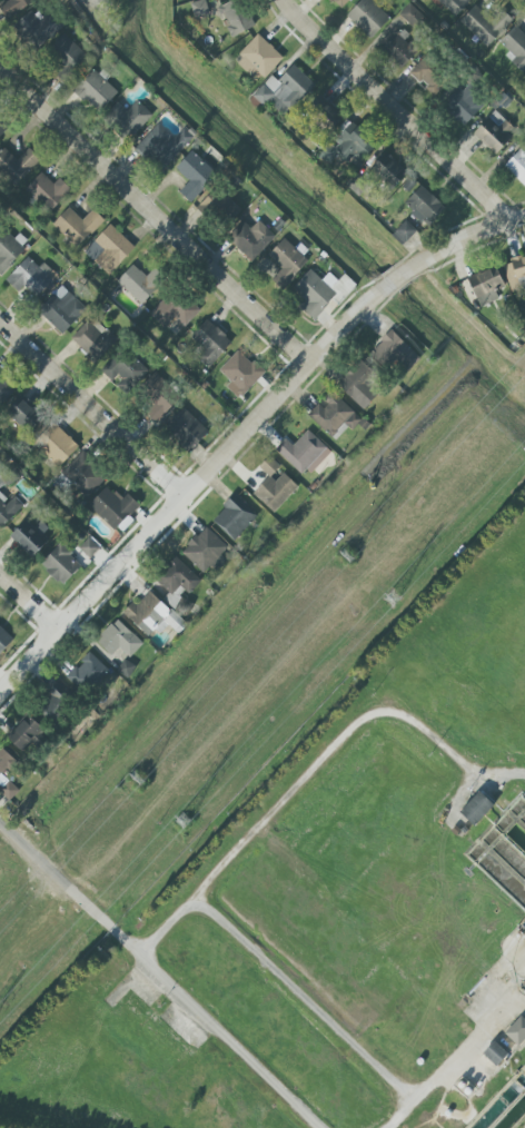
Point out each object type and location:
building: (339, 2)
building: (454, 6)
building: (14, 7)
building: (199, 8)
building: (236, 17)
building: (367, 17)
building: (413, 17)
building: (487, 24)
building: (37, 26)
building: (397, 47)
building: (515, 48)
building: (66, 53)
building: (258, 57)
building: (428, 76)
building: (284, 90)
building: (95, 91)
building: (464, 103)
road: (399, 111)
building: (329, 117)
building: (128, 118)
building: (1, 129)
building: (493, 132)
building: (354, 144)
building: (162, 146)
building: (17, 165)
building: (517, 166)
building: (388, 170)
building: (194, 176)
building: (47, 191)
building: (424, 206)
building: (219, 207)
road: (155, 216)
building: (77, 226)
building: (404, 232)
building: (252, 239)
building: (10, 248)
building: (109, 249)
building: (286, 263)
building: (515, 273)
building: (31, 277)
building: (140, 283)
building: (485, 286)
building: (320, 291)
building: (61, 309)
building: (178, 310)
building: (92, 339)
building: (209, 342)
building: (394, 354)
building: (123, 370)
building: (240, 373)
building: (361, 385)
building: (4, 389)
building: (158, 397)
road: (92, 407)
building: (22, 414)
building: (334, 415)
building: (186, 429)
road: (244, 432)
building: (56, 444)
building: (304, 453)
building: (83, 474)
building: (274, 486)
building: (112, 507)
building: (8, 509)
building: (234, 517)
building: (29, 537)
building: (89, 547)
building: (204, 550)
power tower: (356, 551)
building: (60, 564)
building: (177, 582)
power tower: (396, 594)
road: (28, 602)
building: (152, 615)
building: (3, 640)
building: (119, 640)
building: (86, 673)
building: (51, 704)
building: (26, 734)
building: (4, 762)
road: (315, 763)
road: (501, 775)
power tower: (143, 776)
building: (9, 790)
building: (476, 808)
power tower: (185, 818)
road: (70, 890)
road: (305, 998)
building: (516, 1031)
road: (234, 1042)
building: (494, 1053)
road: (455, 1061)

